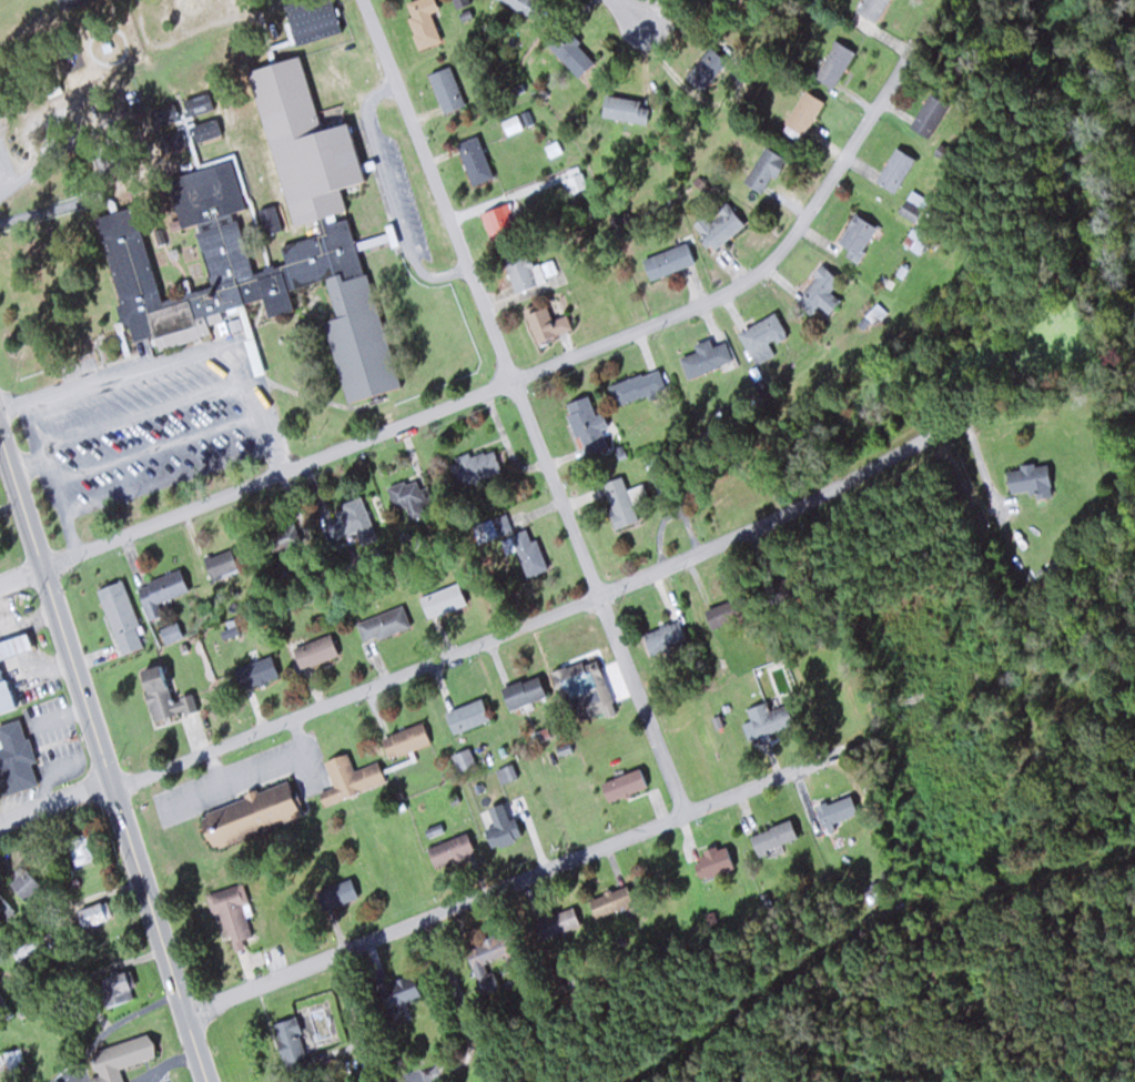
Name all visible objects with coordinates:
building: (69, 2)
building: (520, 4)
road: (622, 9)
building: (422, 20)
building: (312, 21)
building: (569, 51)
building: (833, 63)
building: (706, 69)
building: (446, 89)
building: (195, 102)
building: (625, 109)
building: (164, 113)
building: (803, 113)
building: (928, 117)
building: (513, 124)
building: (205, 129)
building: (475, 161)
building: (763, 170)
building: (895, 170)
building: (572, 179)
building: (267, 220)
building: (498, 221)
building: (621, 223)
building: (719, 226)
building: (216, 227)
building: (855, 237)
building: (667, 261)
building: (519, 270)
building: (819, 293)
building: (762, 337)
building: (705, 358)
road: (513, 380)
building: (636, 386)
road: (523, 407)
building: (587, 423)
building: (474, 466)
building: (1030, 478)
building: (405, 495)
building: (619, 500)
building: (492, 527)
building: (284, 537)
building: (526, 550)
building: (222, 563)
building: (160, 590)
building: (443, 599)
building: (721, 611)
building: (121, 616)
building: (383, 624)
road: (501, 635)
building: (665, 637)
building: (13, 645)
building: (314, 650)
building: (255, 671)
building: (581, 685)
building: (523, 691)
building: (162, 695)
building: (3, 696)
building: (466, 715)
building: (767, 716)
building: (405, 739)
road: (105, 757)
building: (14, 759)
building: (464, 759)
building: (349, 777)
building: (622, 785)
building: (833, 812)
building: (250, 813)
building: (773, 837)
building: (80, 849)
building: (449, 850)
building: (712, 861)
building: (23, 881)
road: (514, 881)
building: (335, 893)
building: (610, 901)
building: (4, 911)
building: (93, 913)
building: (232, 913)
building: (556, 923)
building: (485, 968)
building: (115, 990)
building: (398, 991)
building: (4, 1009)
building: (290, 1042)
building: (120, 1058)
building: (14, 1060)
road: (418, 1076)

